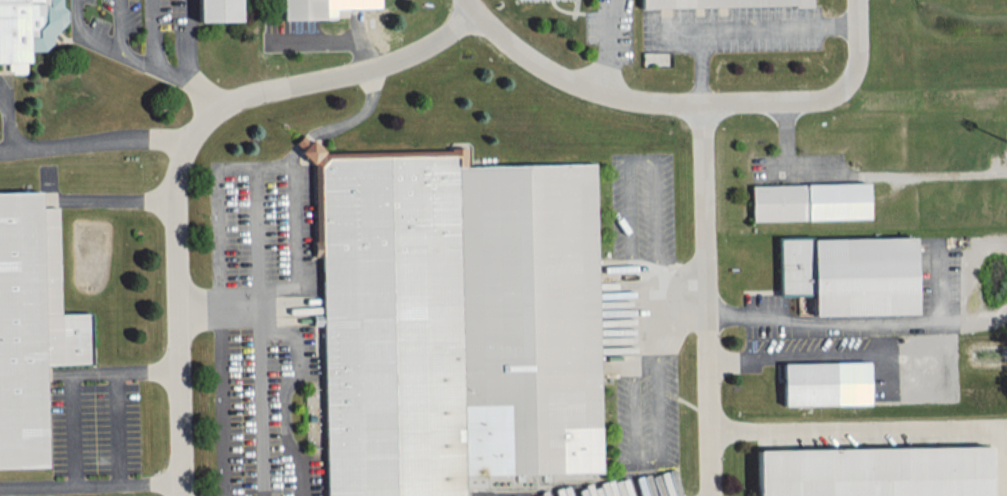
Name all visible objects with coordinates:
building: (719, 3)
parking lot: (361, 4)
building: (319, 8)
building: (218, 10)
road: (117, 24)
building: (23, 28)
parking lot: (730, 29)
road: (82, 31)
parking lot: (610, 31)
road: (331, 39)
parking lot: (170, 44)
road: (187, 44)
road: (607, 44)
road: (152, 53)
road: (135, 60)
road: (571, 82)
road: (816, 93)
road: (203, 99)
parking lot: (7, 119)
road: (7, 123)
road: (102, 141)
road: (10, 150)
road: (173, 152)
road: (117, 198)
building: (809, 201)
parking lot: (642, 206)
road: (299, 228)
building: (851, 273)
road: (709, 299)
road: (246, 306)
parking lot: (769, 306)
building: (456, 322)
road: (826, 323)
building: (31, 325)
parking lot: (266, 331)
road: (258, 334)
road: (148, 372)
building: (825, 383)
road: (223, 401)
road: (70, 407)
parking lot: (646, 411)
parking lot: (93, 428)
road: (118, 428)
road: (885, 428)
building: (875, 471)
road: (92, 486)

